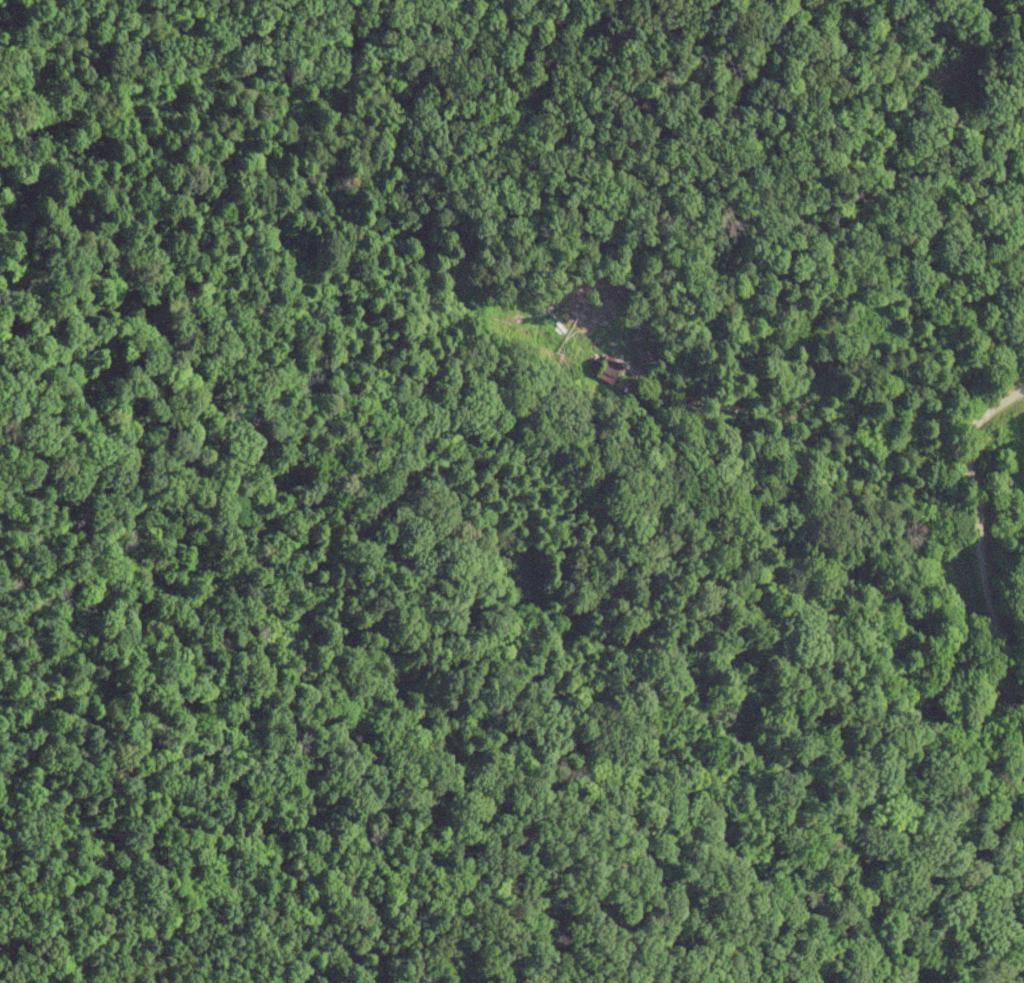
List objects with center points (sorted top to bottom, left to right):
building: (606, 371)
road: (992, 405)
road: (982, 582)

